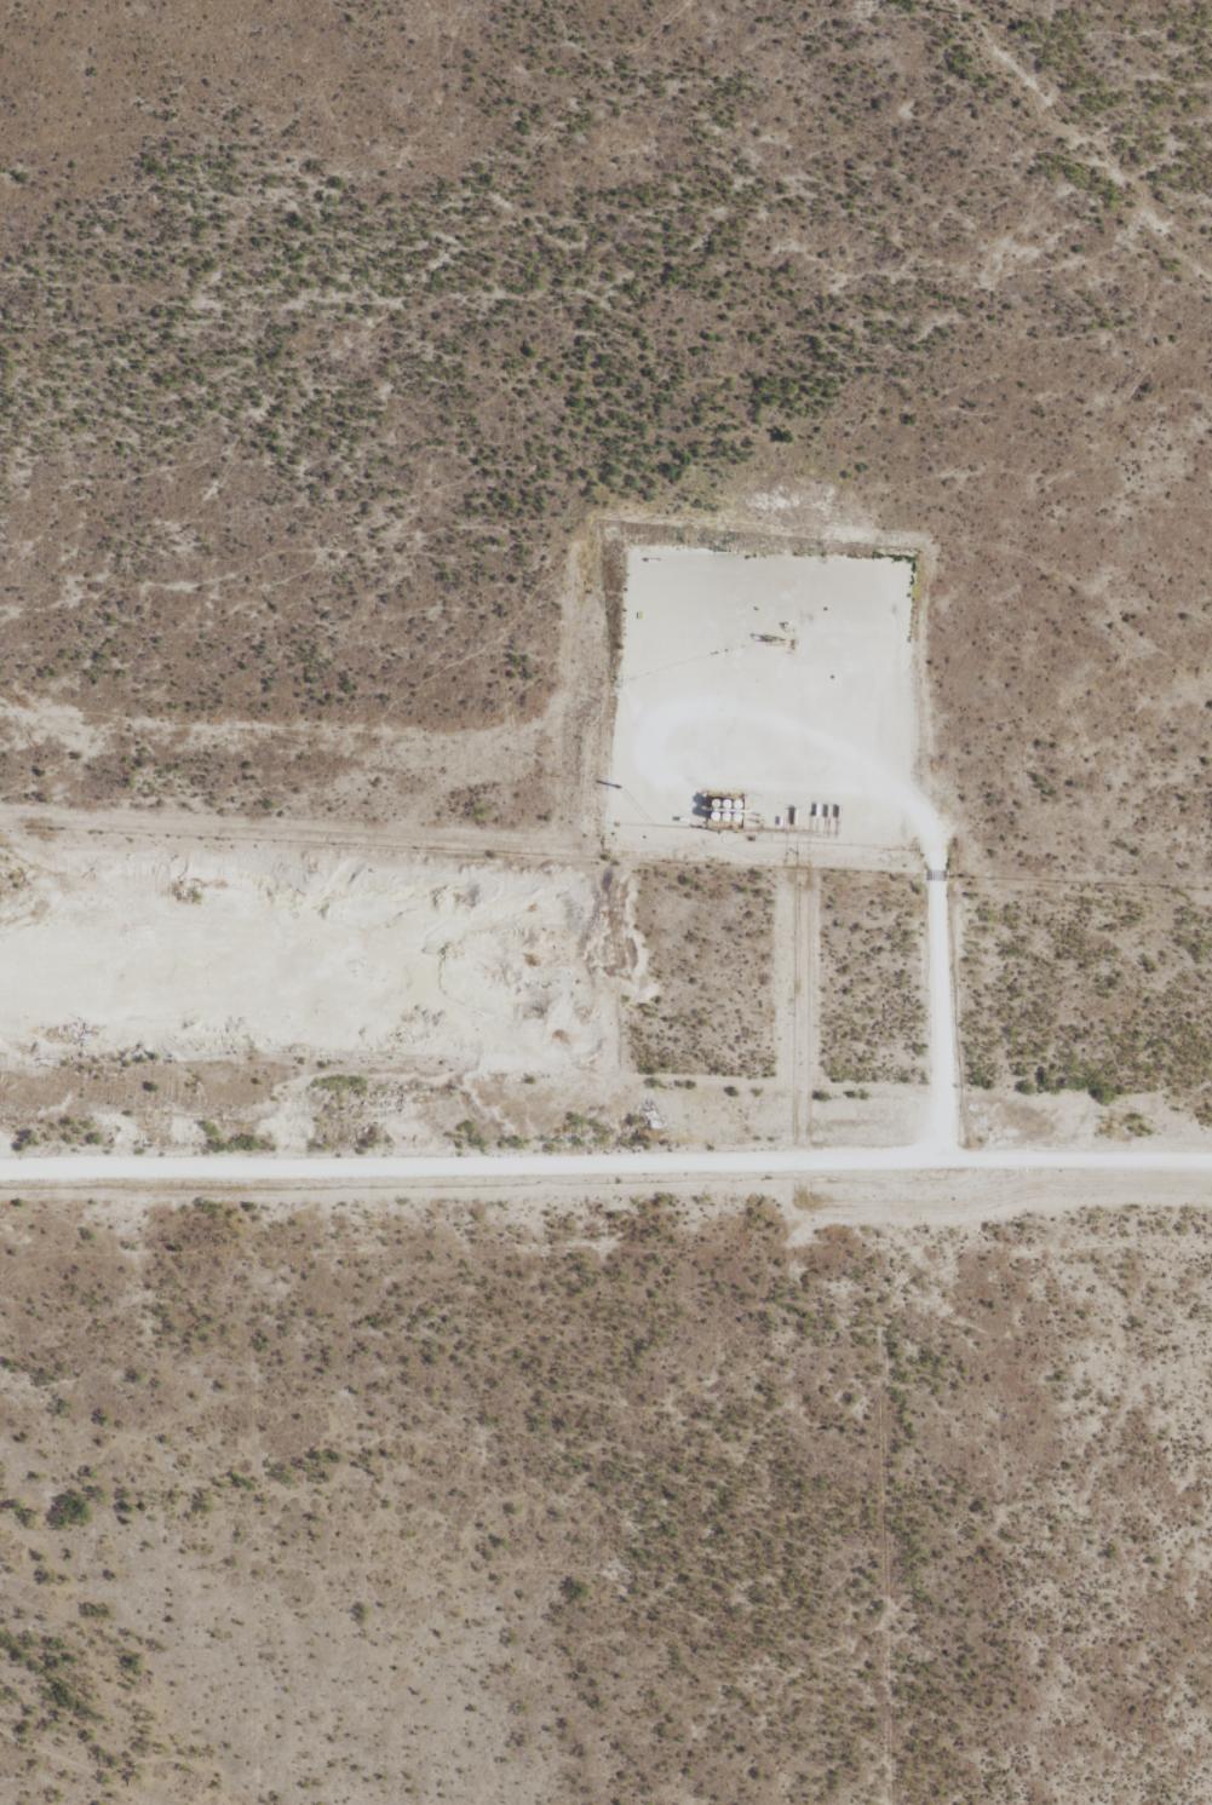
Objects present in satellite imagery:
power tower: (955, 13)
road: (605, 1154)

